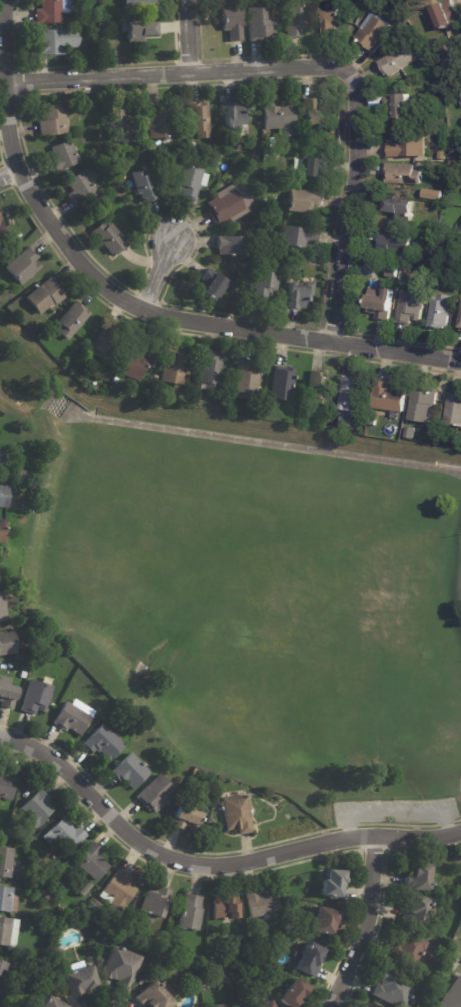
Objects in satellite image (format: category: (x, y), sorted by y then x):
building: (139, 2)
building: (52, 10)
building: (442, 16)
building: (331, 17)
building: (296, 21)
building: (232, 22)
building: (260, 24)
building: (139, 29)
building: (372, 33)
road: (189, 35)
building: (56, 40)
building: (101, 41)
building: (450, 57)
building: (74, 60)
building: (394, 64)
road: (186, 70)
building: (460, 88)
building: (460, 94)
building: (397, 106)
building: (313, 114)
building: (233, 116)
road: (14, 118)
building: (278, 118)
building: (52, 121)
building: (198, 121)
building: (158, 125)
building: (121, 127)
building: (454, 140)
building: (267, 144)
building: (407, 149)
building: (140, 150)
building: (63, 157)
building: (255, 160)
building: (313, 168)
road: (11, 175)
building: (402, 175)
building: (188, 181)
building: (143, 187)
building: (81, 188)
building: (430, 193)
building: (303, 201)
building: (229, 205)
building: (400, 209)
road: (349, 215)
building: (95, 225)
building: (2, 231)
building: (297, 237)
building: (109, 239)
building: (393, 245)
building: (227, 246)
building: (413, 249)
building: (431, 252)
building: (296, 265)
building: (22, 266)
building: (391, 273)
building: (448, 278)
road: (161, 279)
building: (265, 284)
building: (214, 285)
building: (44, 295)
building: (299, 296)
building: (379, 303)
building: (411, 307)
building: (438, 312)
building: (71, 319)
building: (460, 328)
road: (239, 332)
building: (101, 342)
building: (135, 361)
building: (174, 366)
building: (209, 371)
building: (247, 379)
building: (281, 383)
building: (316, 385)
building: (388, 397)
building: (351, 399)
building: (421, 404)
building: (453, 409)
building: (330, 417)
building: (410, 432)
building: (3, 459)
building: (21, 476)
building: (4, 494)
building: (2, 529)
building: (2, 607)
park: (252, 610)
building: (7, 641)
building: (23, 673)
building: (6, 691)
building: (36, 696)
building: (73, 716)
building: (103, 741)
building: (130, 771)
building: (7, 784)
building: (155, 793)
building: (210, 797)
building: (9, 808)
building: (37, 808)
building: (236, 812)
road: (397, 814)
building: (186, 818)
building: (64, 834)
building: (6, 861)
building: (92, 862)
road: (209, 865)
building: (419, 875)
building: (333, 883)
building: (84, 889)
building: (119, 890)
building: (43, 893)
building: (7, 899)
building: (155, 902)
building: (262, 902)
building: (226, 908)
building: (415, 909)
building: (190, 911)
building: (323, 919)
building: (104, 923)
road: (366, 923)
building: (44, 929)
building: (8, 931)
building: (156, 940)
building: (407, 950)
building: (275, 955)
building: (160, 958)
building: (310, 960)
building: (1, 964)
building: (122, 967)
building: (201, 968)
building: (238, 975)
building: (77, 980)
building: (393, 988)
building: (26, 991)
building: (293, 993)
building: (152, 996)
building: (453, 996)
building: (49, 1003)
building: (264, 1004)
building: (220, 1005)
building: (370, 1006)

